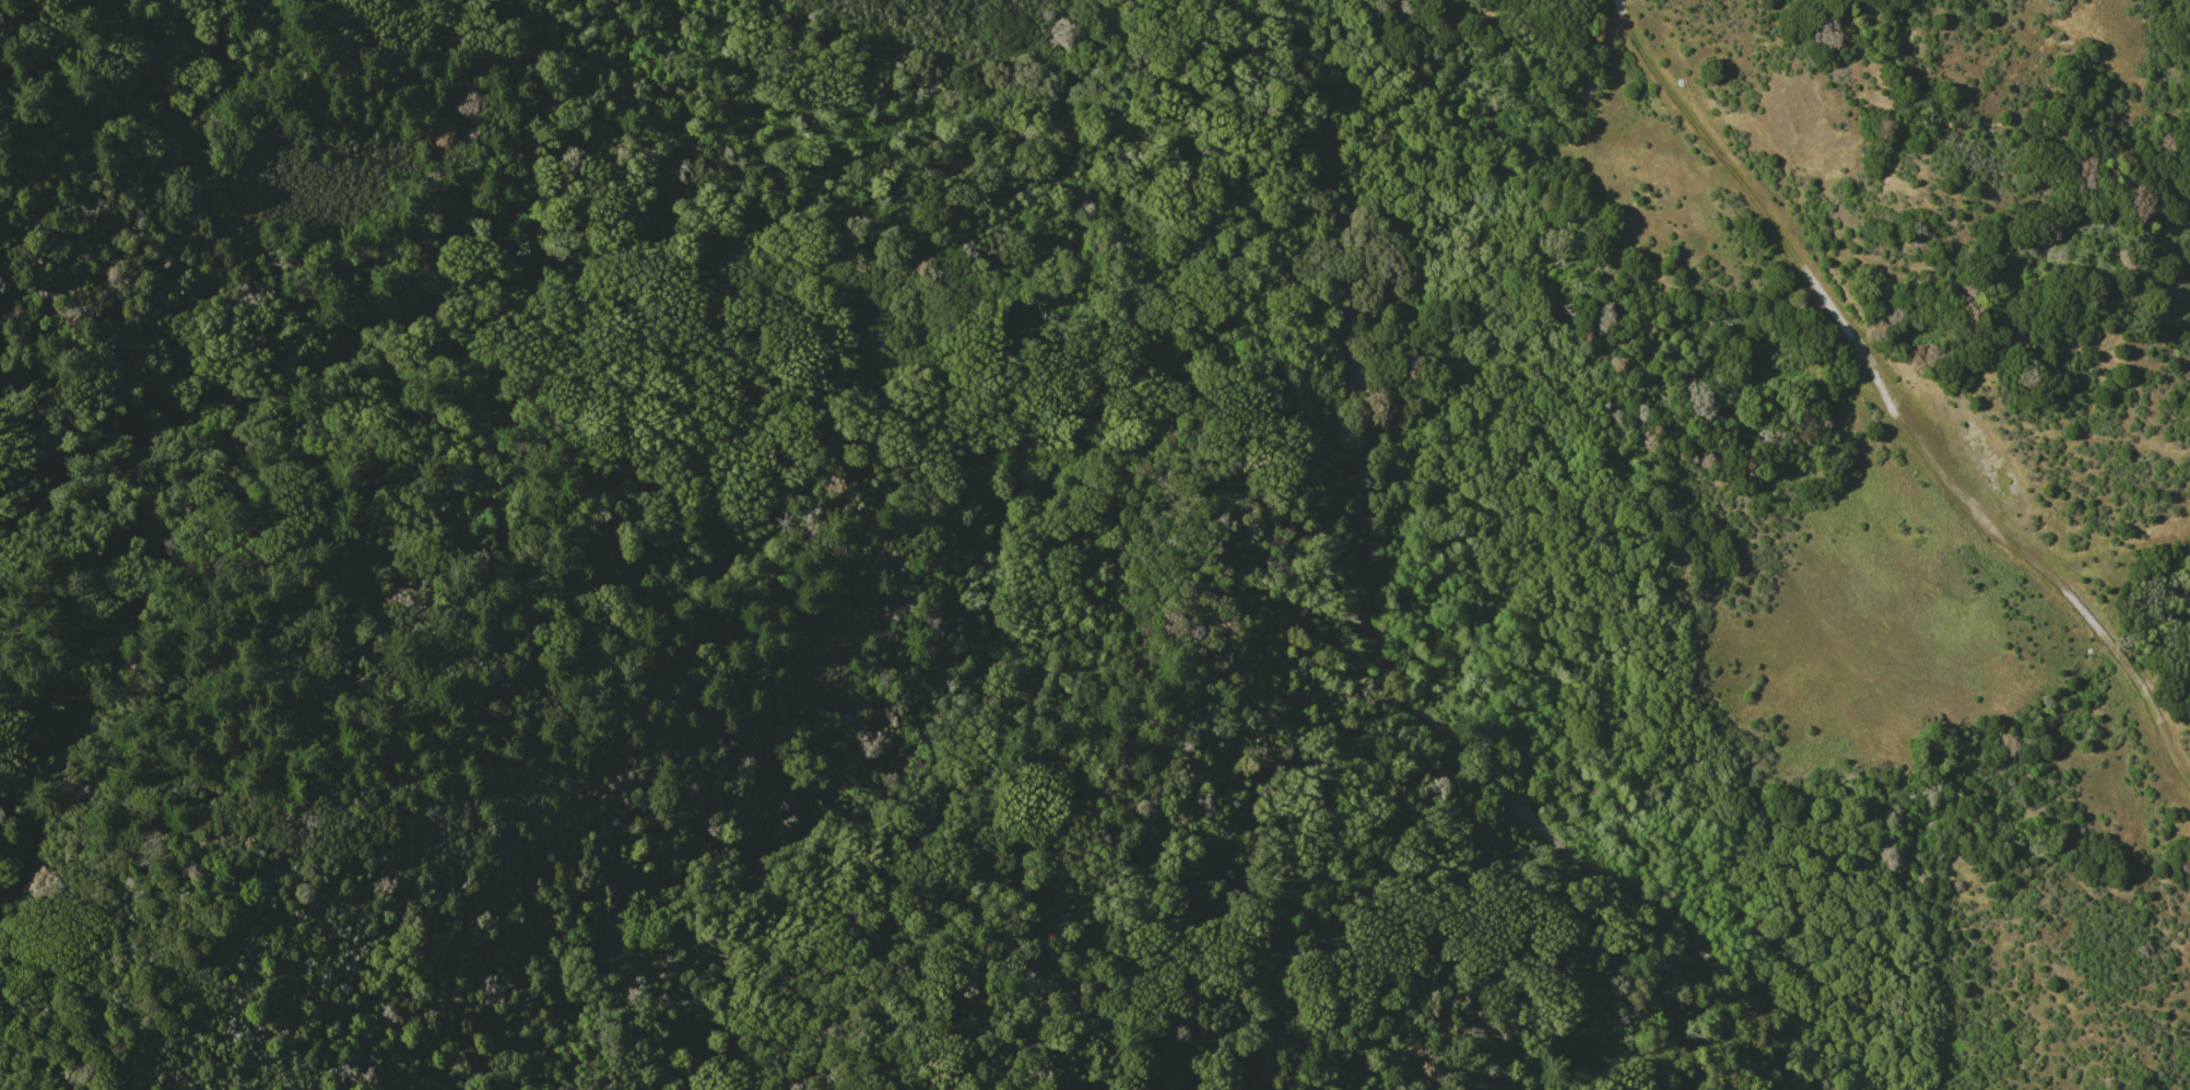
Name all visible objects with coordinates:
road: (1617, 9)
road: (1707, 142)
road: (1850, 339)
road: (2061, 587)
road: (1358, 589)

